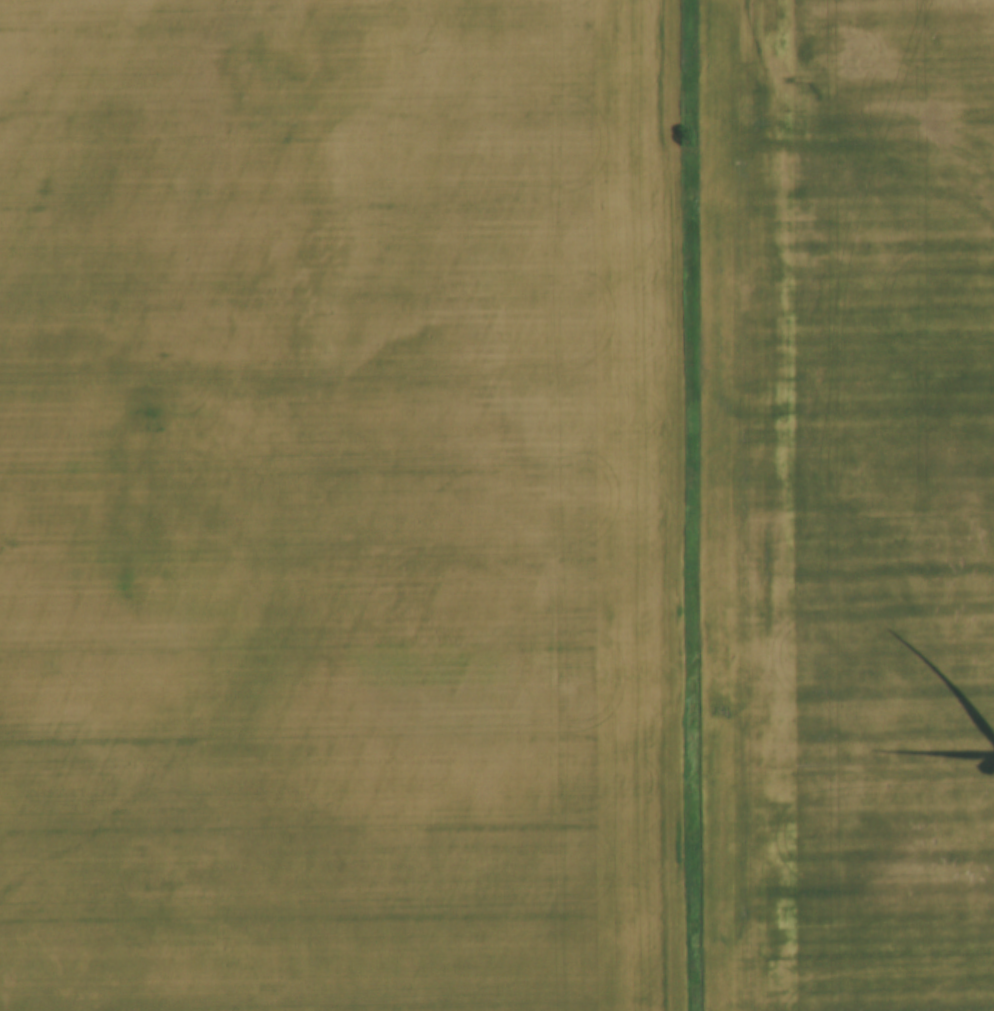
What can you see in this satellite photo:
road: (786, 514)

